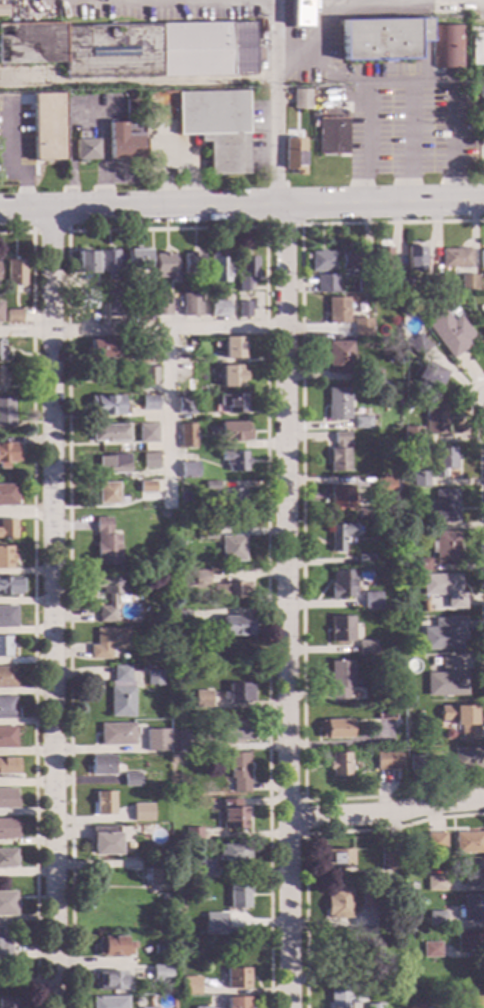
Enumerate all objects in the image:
building: (2, 10)
building: (299, 13)
road: (338, 16)
building: (381, 38)
building: (448, 47)
building: (132, 49)
building: (474, 50)
road: (138, 82)
road: (406, 85)
building: (480, 90)
building: (324, 92)
building: (299, 99)
road: (277, 103)
building: (321, 108)
building: (46, 127)
building: (11, 128)
building: (215, 128)
building: (126, 134)
building: (331, 136)
road: (410, 145)
building: (83, 146)
building: (481, 153)
building: (292, 155)
road: (314, 207)
road: (72, 212)
road: (281, 226)
road: (166, 229)
road: (47, 232)
building: (455, 258)
building: (137, 259)
building: (414, 259)
building: (481, 259)
building: (350, 260)
building: (321, 261)
building: (84, 263)
building: (191, 263)
building: (382, 263)
building: (106, 264)
building: (163, 265)
building: (218, 269)
building: (14, 273)
building: (244, 273)
building: (468, 282)
building: (325, 283)
building: (430, 283)
building: (363, 286)
building: (381, 288)
building: (400, 288)
building: (117, 292)
building: (204, 296)
building: (84, 300)
building: (161, 305)
building: (188, 307)
building: (113, 309)
building: (133, 309)
building: (217, 309)
building: (242, 310)
building: (336, 310)
building: (0, 313)
building: (11, 317)
building: (482, 326)
building: (361, 327)
road: (312, 330)
road: (143, 331)
building: (449, 333)
building: (417, 346)
building: (100, 349)
building: (136, 349)
building: (232, 349)
building: (1, 351)
building: (339, 357)
building: (388, 360)
building: (428, 375)
building: (1, 376)
building: (371, 376)
building: (230, 377)
building: (147, 381)
building: (188, 386)
building: (405, 395)
building: (231, 403)
building: (337, 403)
building: (149, 404)
building: (107, 406)
building: (184, 407)
building: (6, 413)
building: (435, 418)
road: (166, 420)
building: (360, 423)
building: (109, 432)
building: (233, 432)
building: (146, 433)
building: (186, 436)
building: (411, 436)
building: (338, 453)
building: (7, 455)
building: (149, 461)
building: (233, 461)
building: (443, 462)
building: (113, 463)
building: (188, 470)
building: (419, 479)
building: (210, 486)
building: (383, 486)
building: (146, 488)
building: (107, 493)
building: (7, 495)
building: (340, 498)
building: (232, 499)
building: (445, 507)
road: (301, 511)
road: (478, 520)
building: (428, 526)
building: (7, 529)
building: (205, 535)
building: (339, 536)
building: (105, 543)
building: (231, 548)
building: (445, 548)
building: (5, 557)
building: (365, 559)
building: (420, 564)
building: (198, 578)
building: (342, 584)
building: (10, 586)
building: (444, 589)
building: (232, 590)
building: (108, 594)
building: (371, 601)
road: (33, 605)
road: (288, 607)
building: (424, 607)
road: (51, 610)
building: (7, 618)
building: (162, 618)
building: (182, 619)
building: (236, 626)
building: (340, 629)
building: (161, 630)
building: (444, 635)
building: (107, 643)
building: (5, 647)
building: (366, 647)
building: (155, 677)
building: (7, 678)
building: (341, 678)
building: (446, 679)
building: (121, 693)
building: (237, 693)
building: (202, 699)
building: (7, 708)
building: (385, 712)
building: (463, 720)
building: (335, 729)
building: (234, 730)
building: (116, 734)
building: (7, 738)
building: (180, 740)
building: (153, 743)
building: (468, 759)
building: (388, 760)
building: (418, 762)
building: (339, 764)
building: (102, 765)
building: (8, 766)
building: (238, 772)
building: (131, 779)
building: (8, 800)
building: (103, 803)
building: (141, 812)
building: (231, 815)
road: (387, 815)
road: (303, 818)
building: (8, 829)
road: (307, 833)
building: (192, 834)
building: (104, 840)
building: (435, 842)
building: (468, 843)
building: (233, 853)
building: (7, 858)
building: (337, 859)
building: (392, 862)
building: (418, 866)
building: (204, 869)
building: (472, 872)
building: (155, 878)
building: (434, 883)
building: (368, 898)
building: (237, 902)
building: (337, 903)
building: (7, 904)
building: (473, 908)
building: (436, 920)
building: (223, 924)
building: (469, 940)
building: (4, 947)
building: (113, 947)
building: (160, 949)
building: (431, 950)
building: (160, 973)
building: (236, 978)
road: (27, 981)
building: (110, 981)
park: (23, 982)
building: (190, 986)
building: (340, 996)
building: (468, 999)
building: (108, 1002)
building: (237, 1002)
building: (9, 1003)
building: (415, 1005)
building: (374, 1006)
building: (201, 1007)

